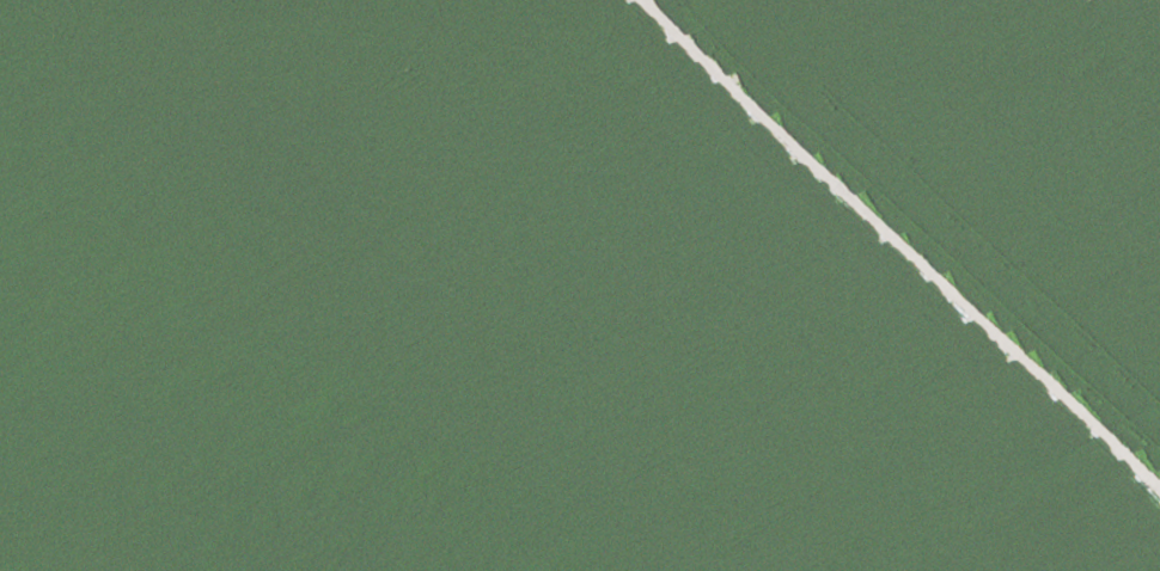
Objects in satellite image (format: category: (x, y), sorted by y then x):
road: (414, 282)

